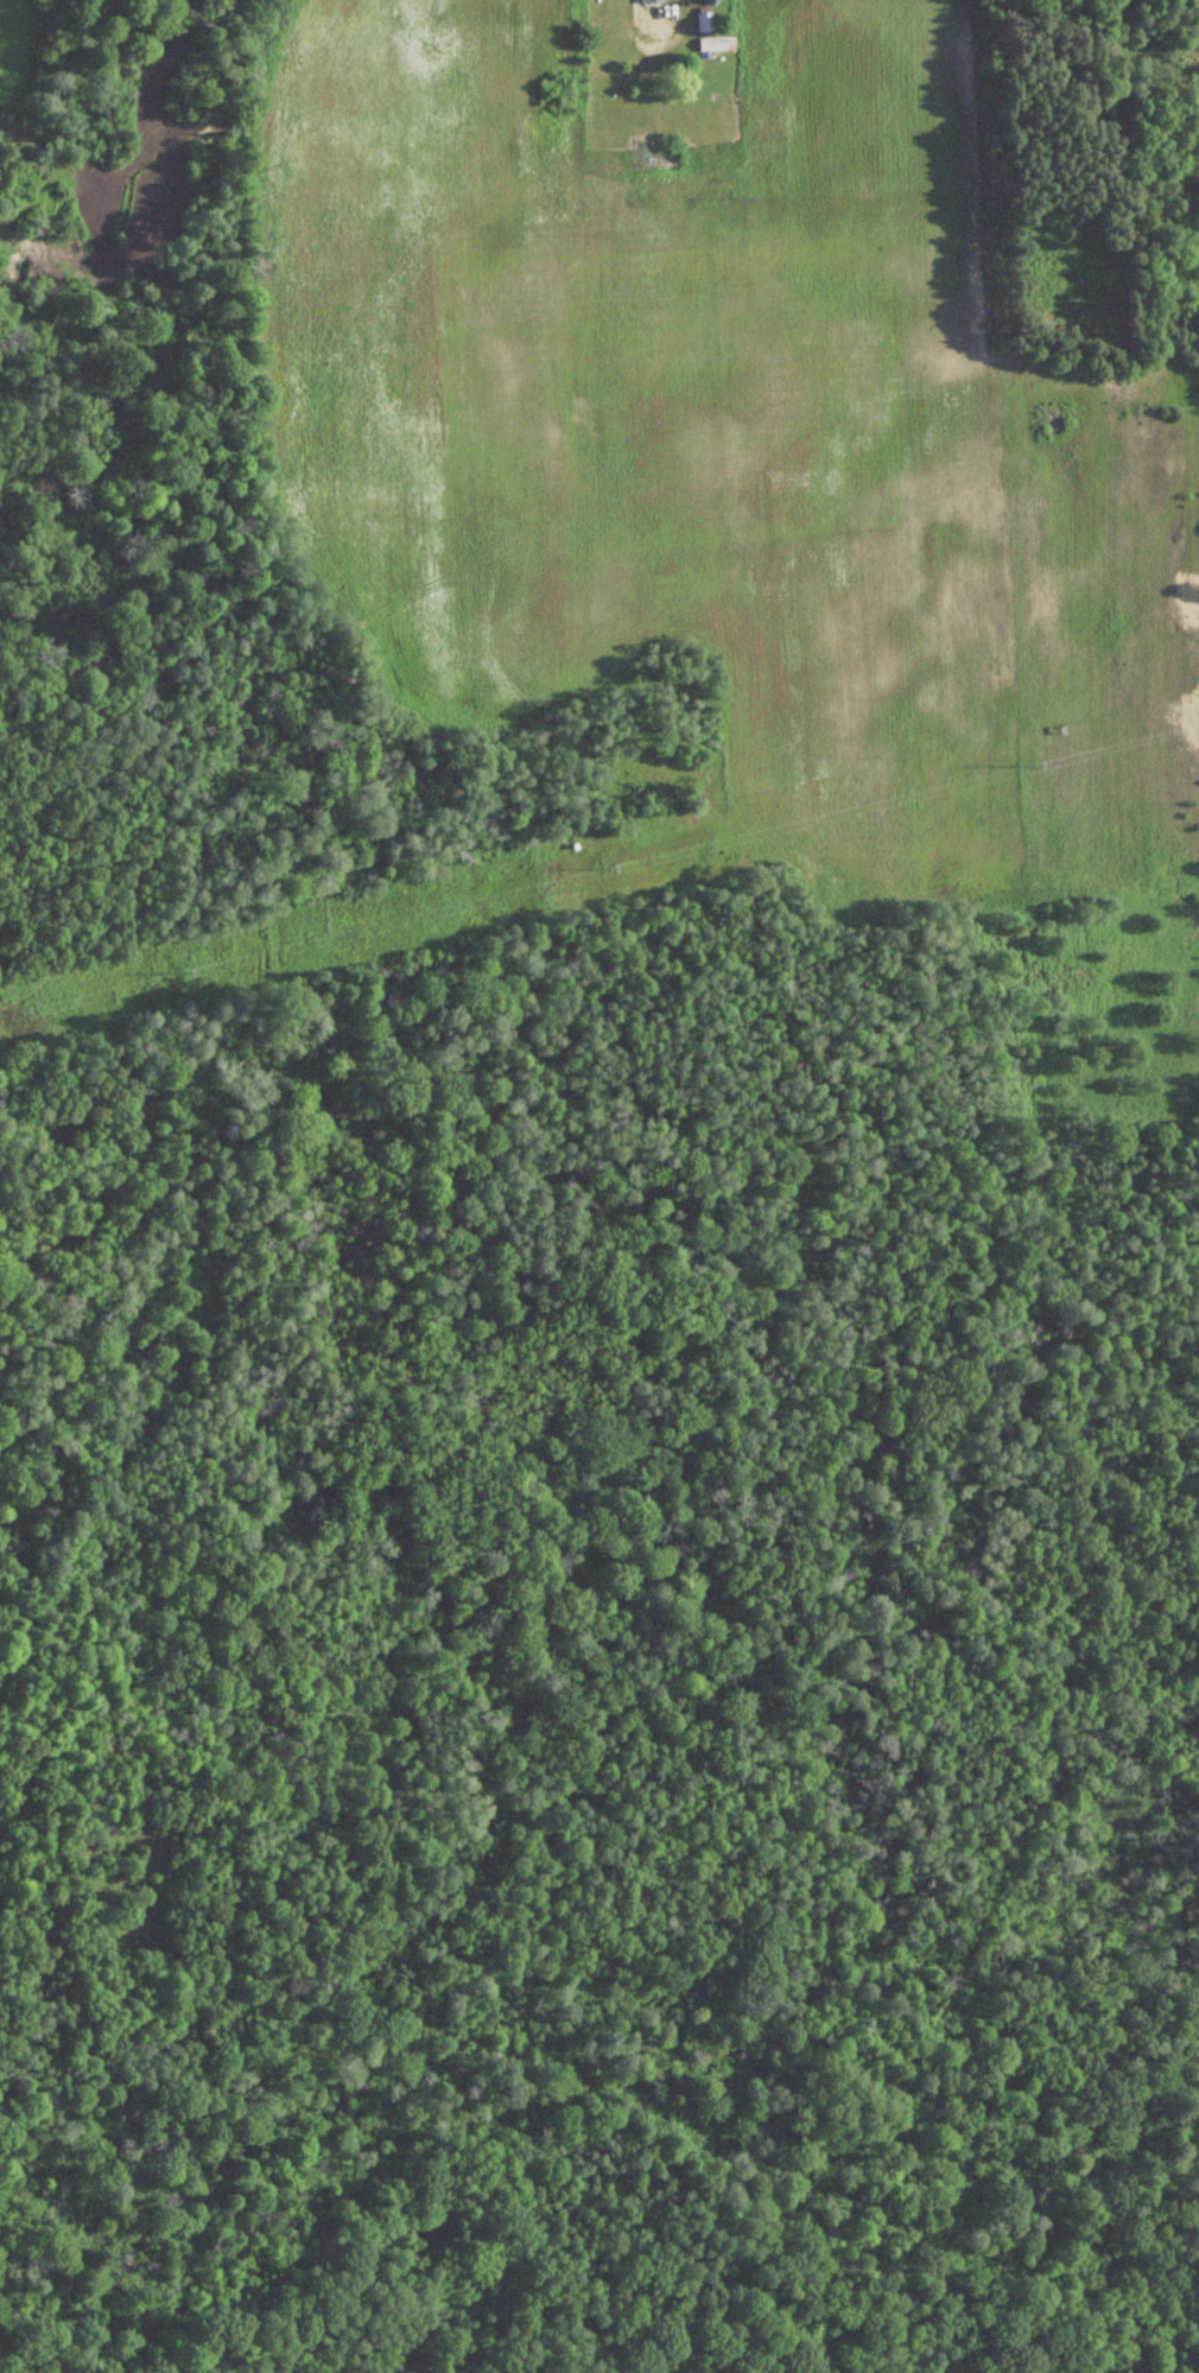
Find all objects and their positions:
building: (648, 0)
road: (642, 19)
building: (700, 21)
building: (712, 43)

